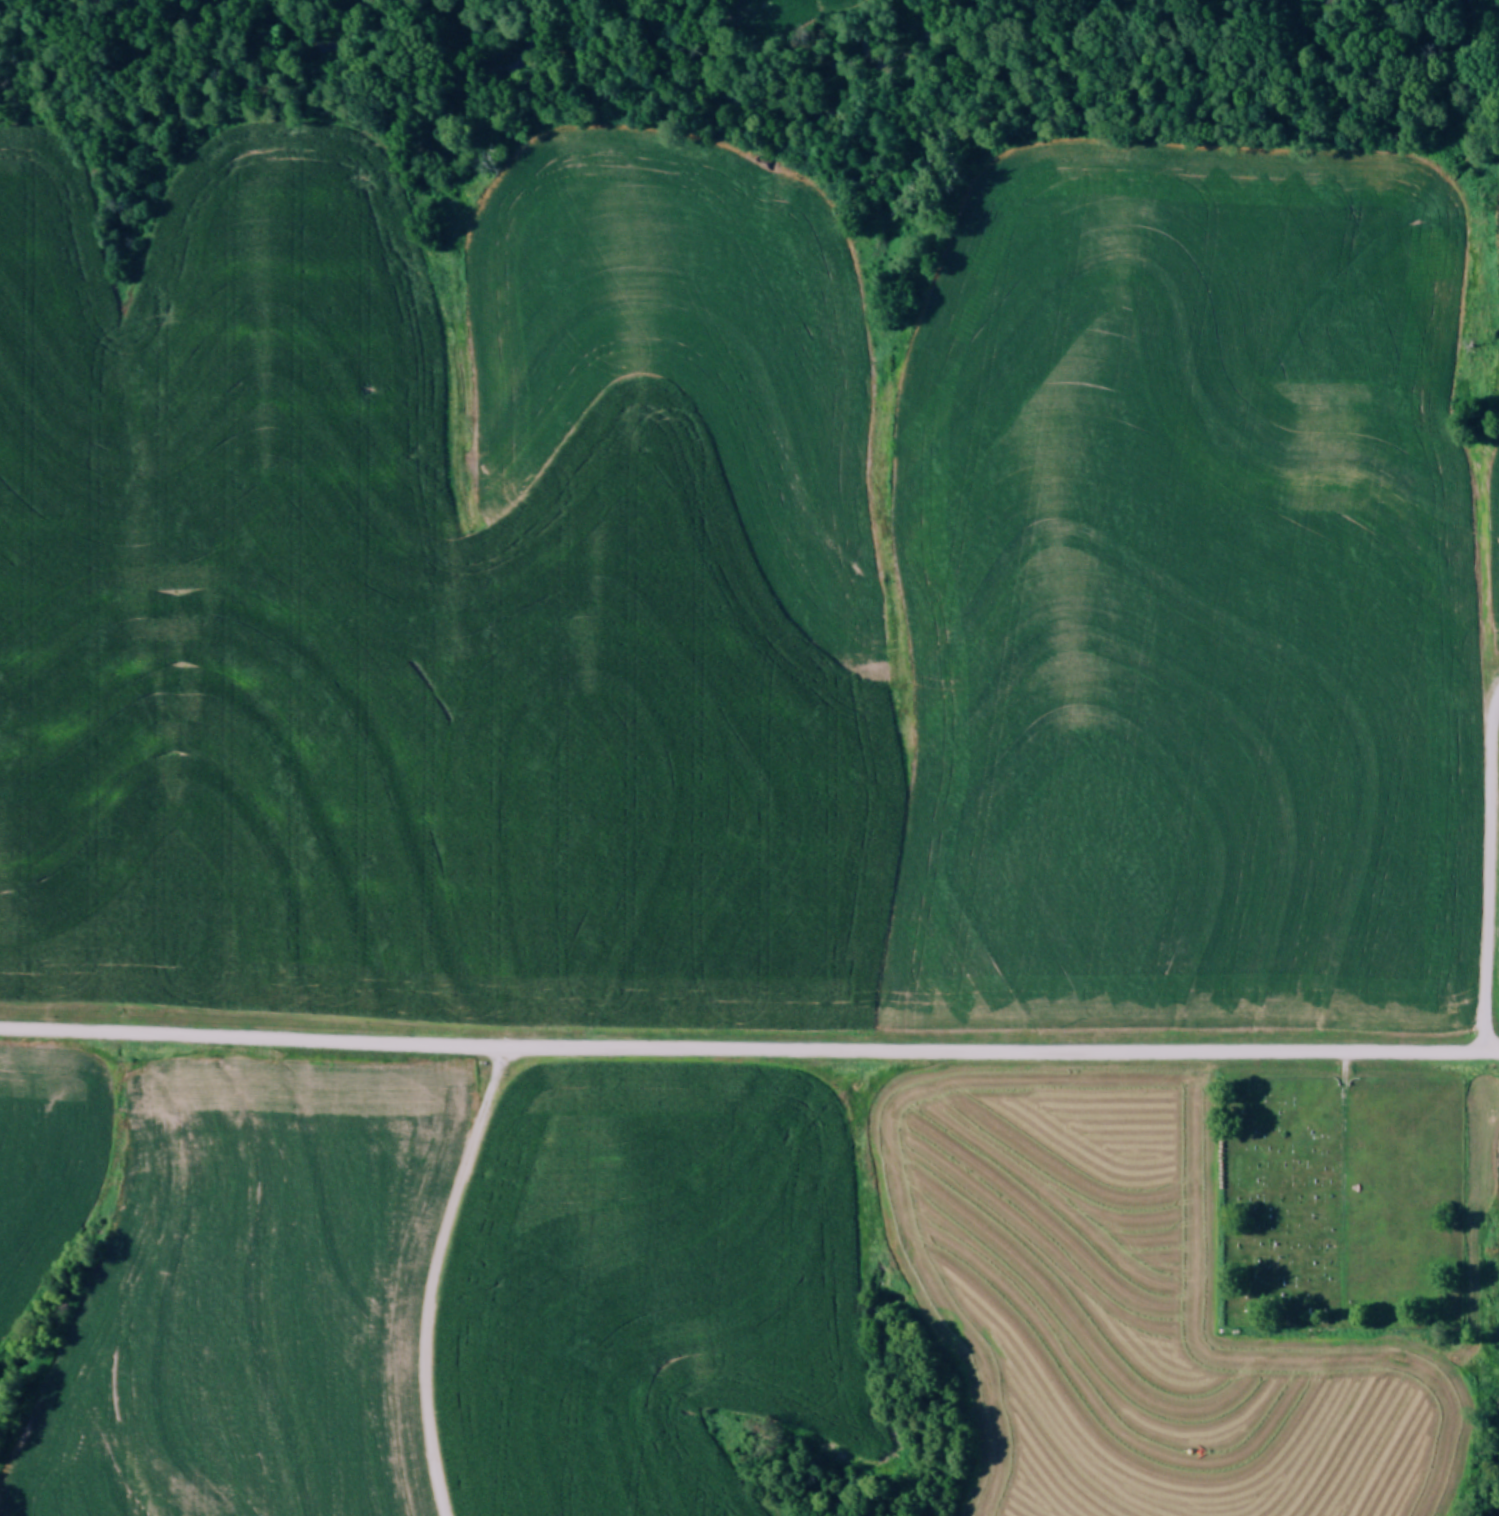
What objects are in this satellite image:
road: (1489, 869)
crop: (1496, 892)
road: (749, 1052)
road: (436, 1279)

